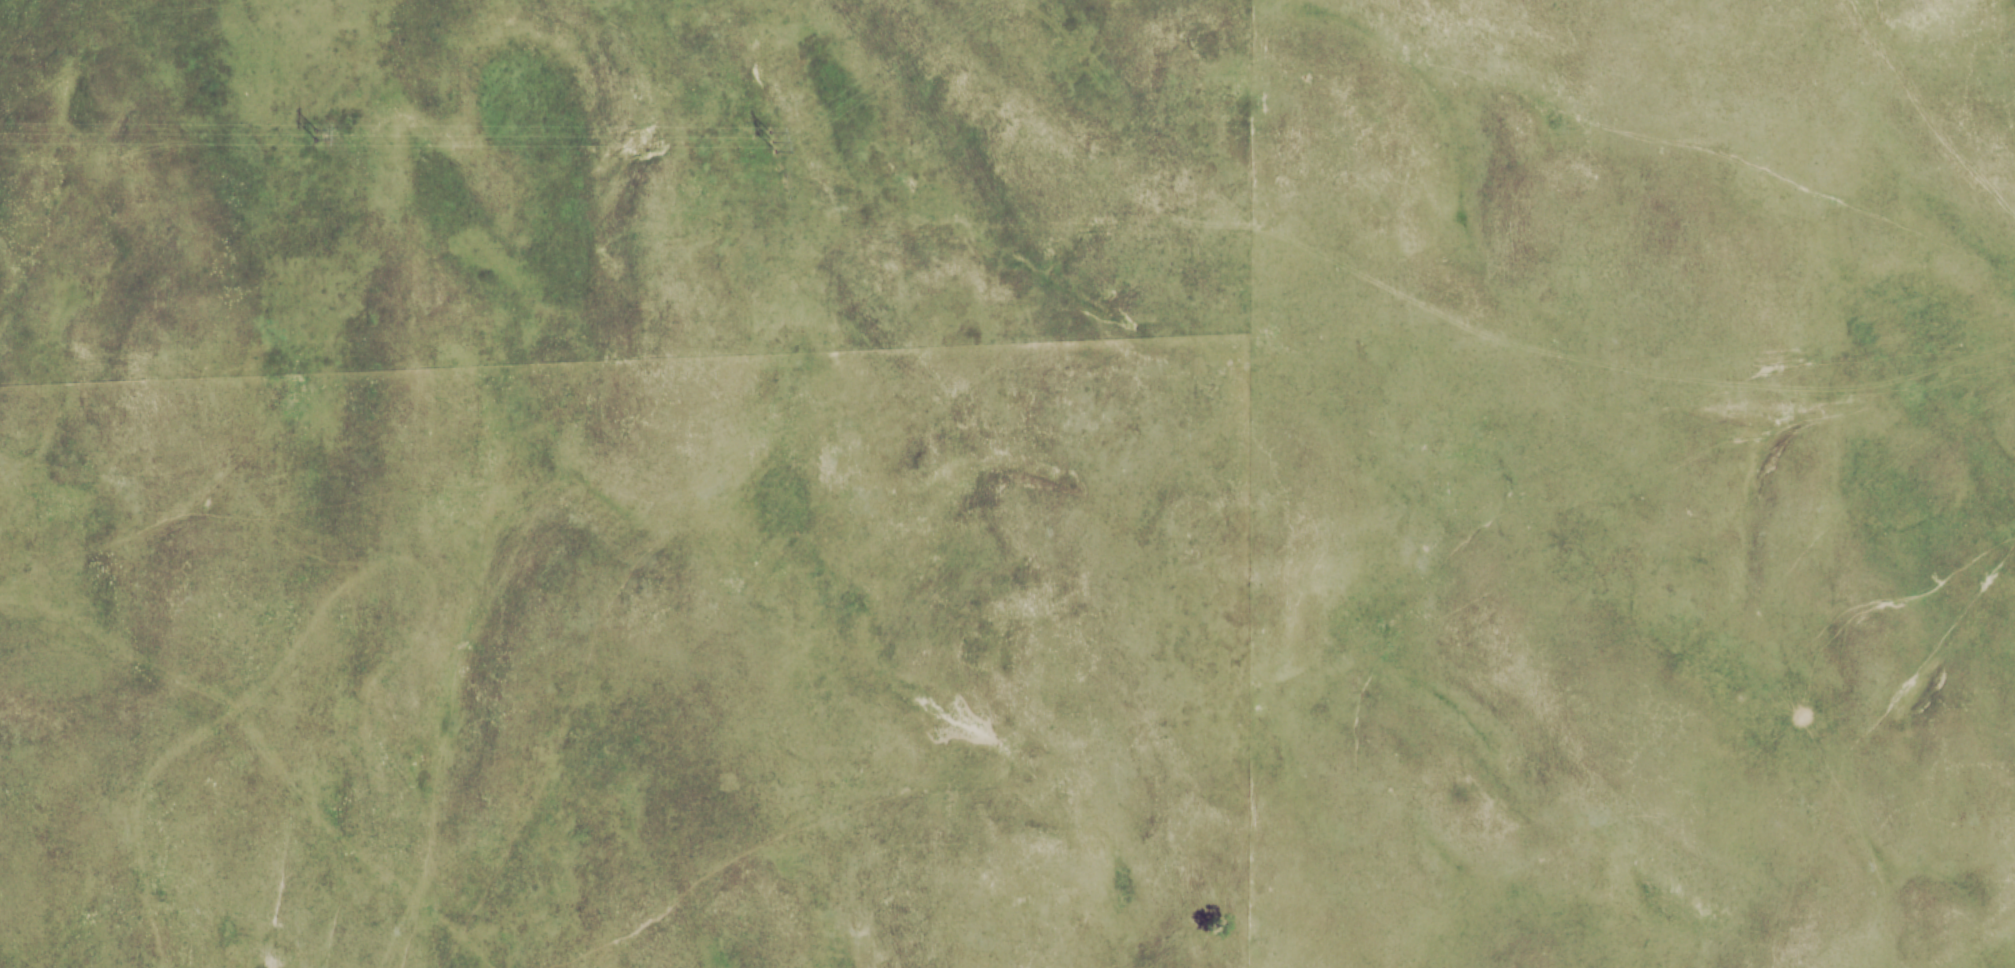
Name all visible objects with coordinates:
power tower: (315, 135)
power tower: (772, 141)

